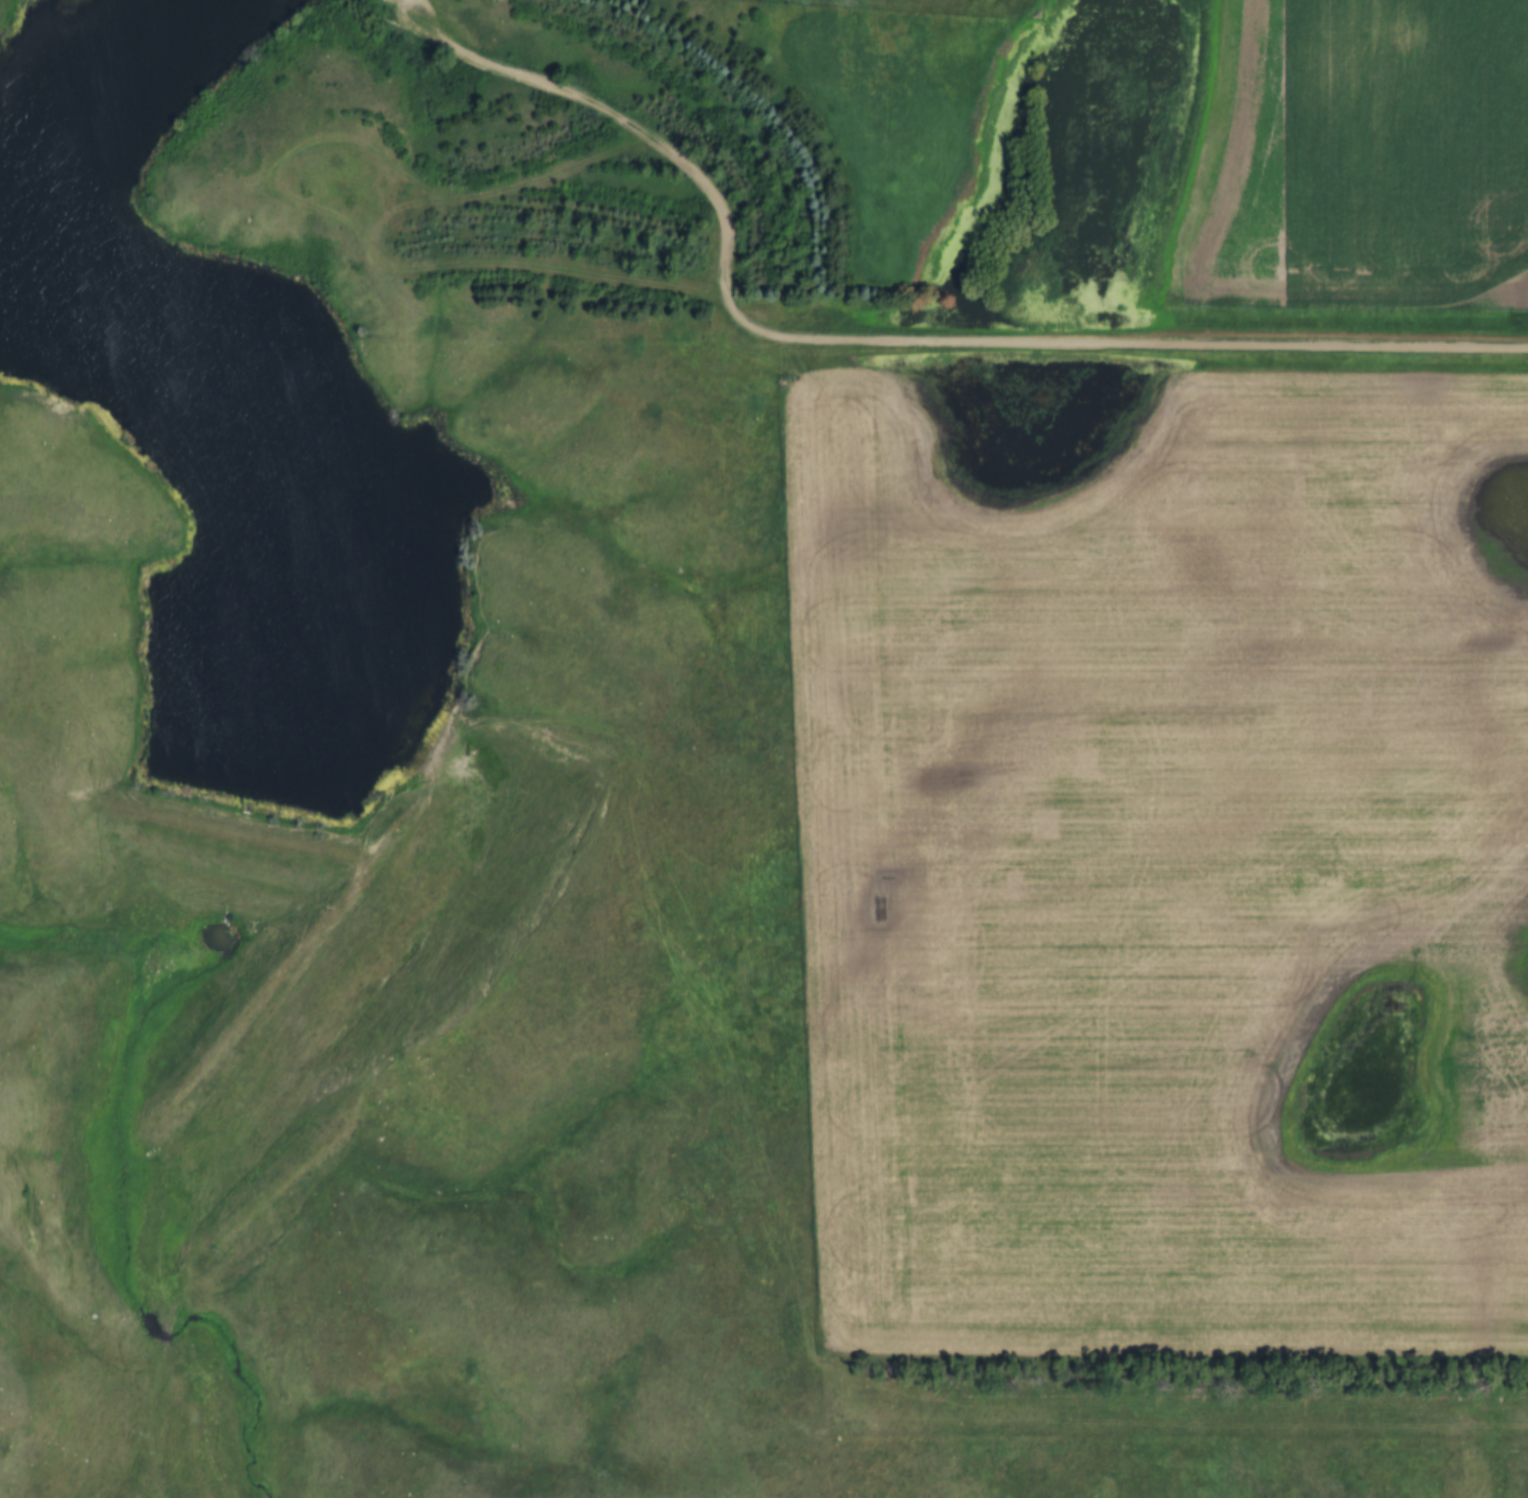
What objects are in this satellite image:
road: (400, 0)
road: (432, 20)
road: (415, 25)
road: (909, 339)

